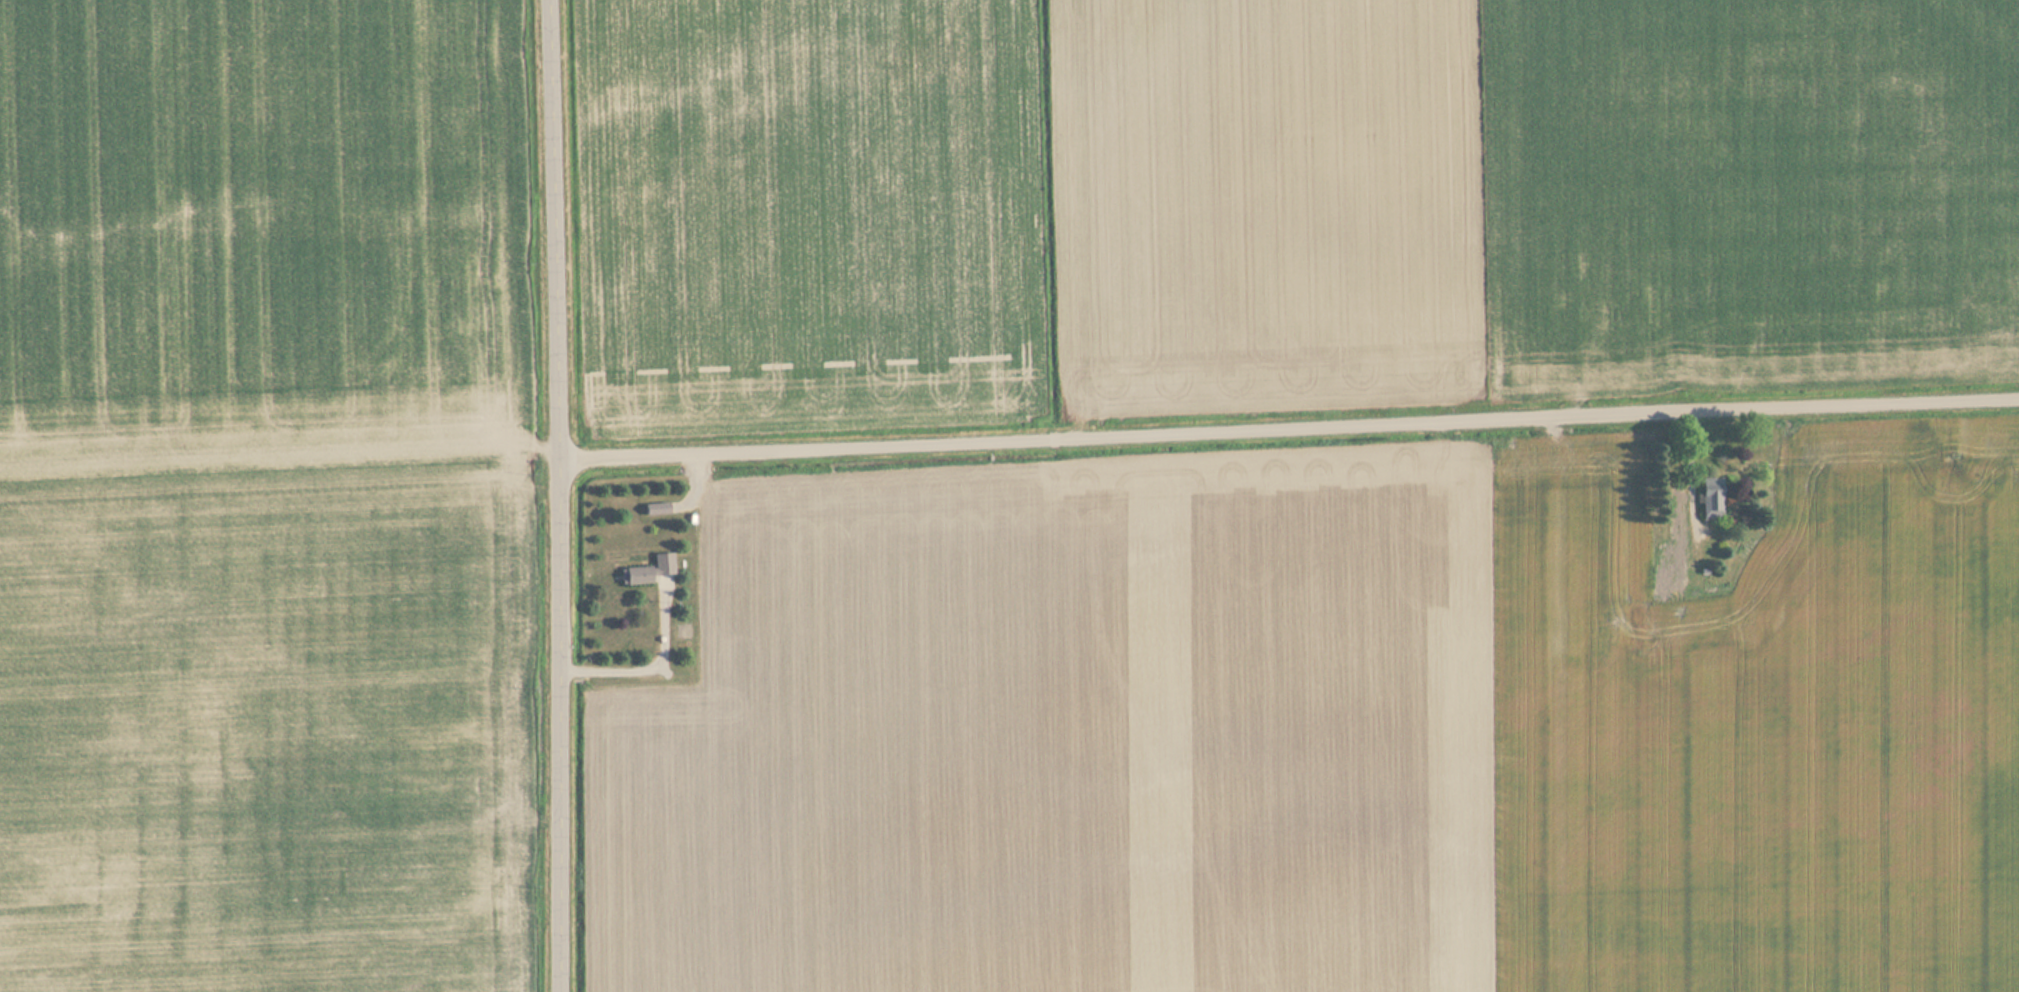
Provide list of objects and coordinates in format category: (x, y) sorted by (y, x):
road: (1293, 427)
road: (567, 495)
building: (1711, 496)
building: (648, 570)
building: (1642, 633)

